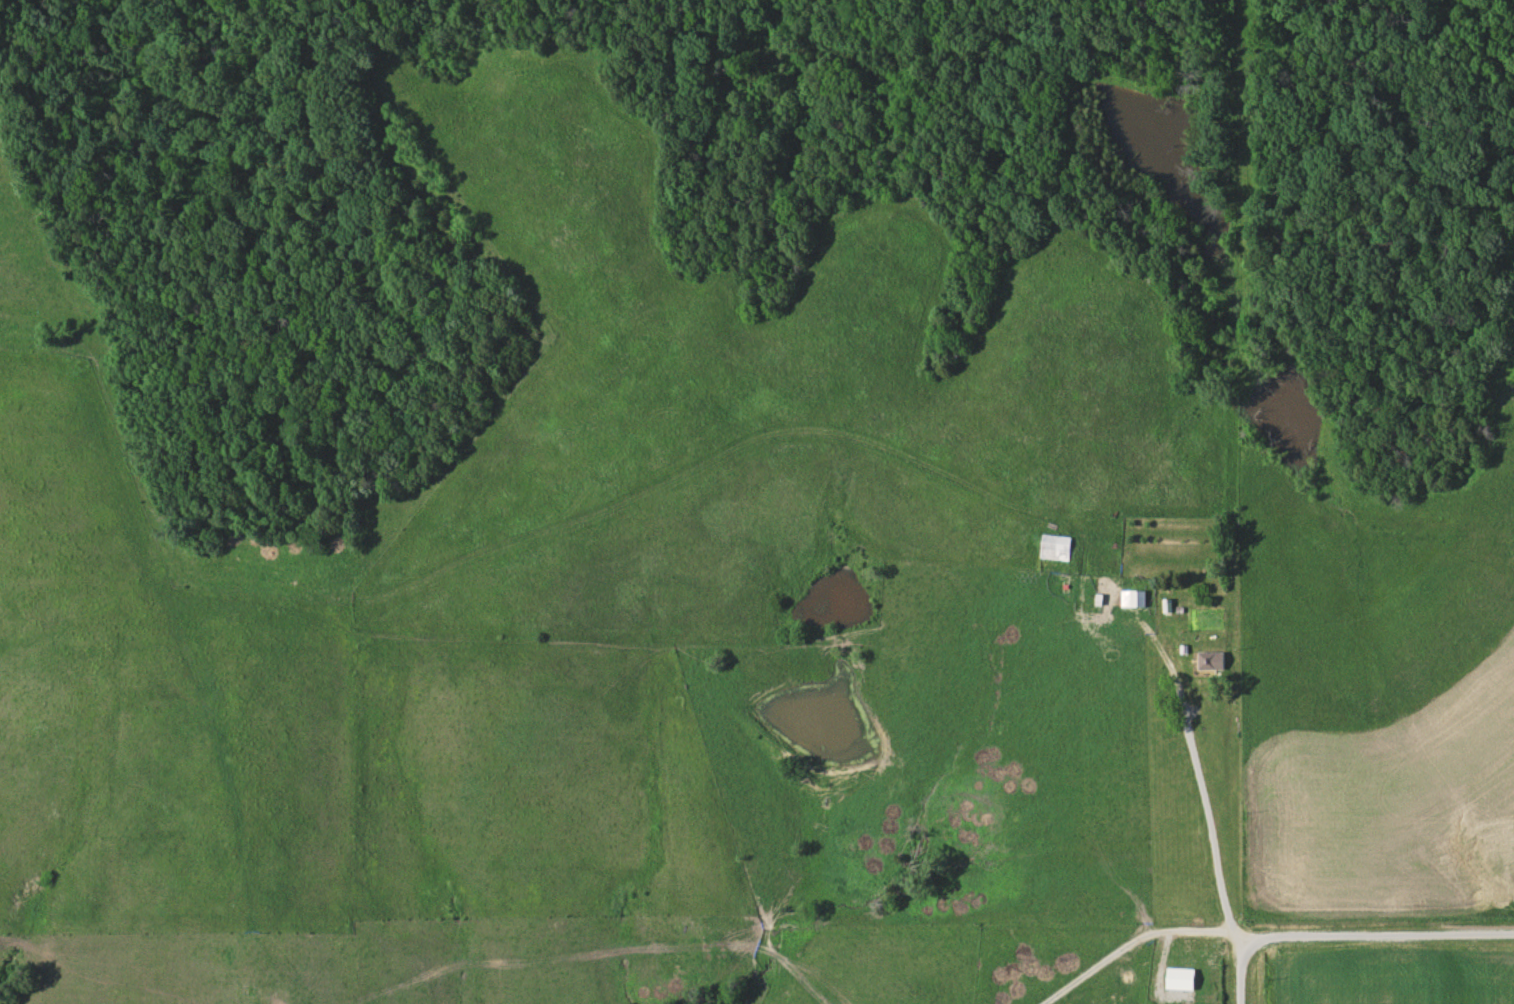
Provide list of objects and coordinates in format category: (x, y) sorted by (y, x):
building: (1054, 547)
building: (1132, 598)
building: (1210, 660)
road: (1376, 934)
road: (1240, 970)

